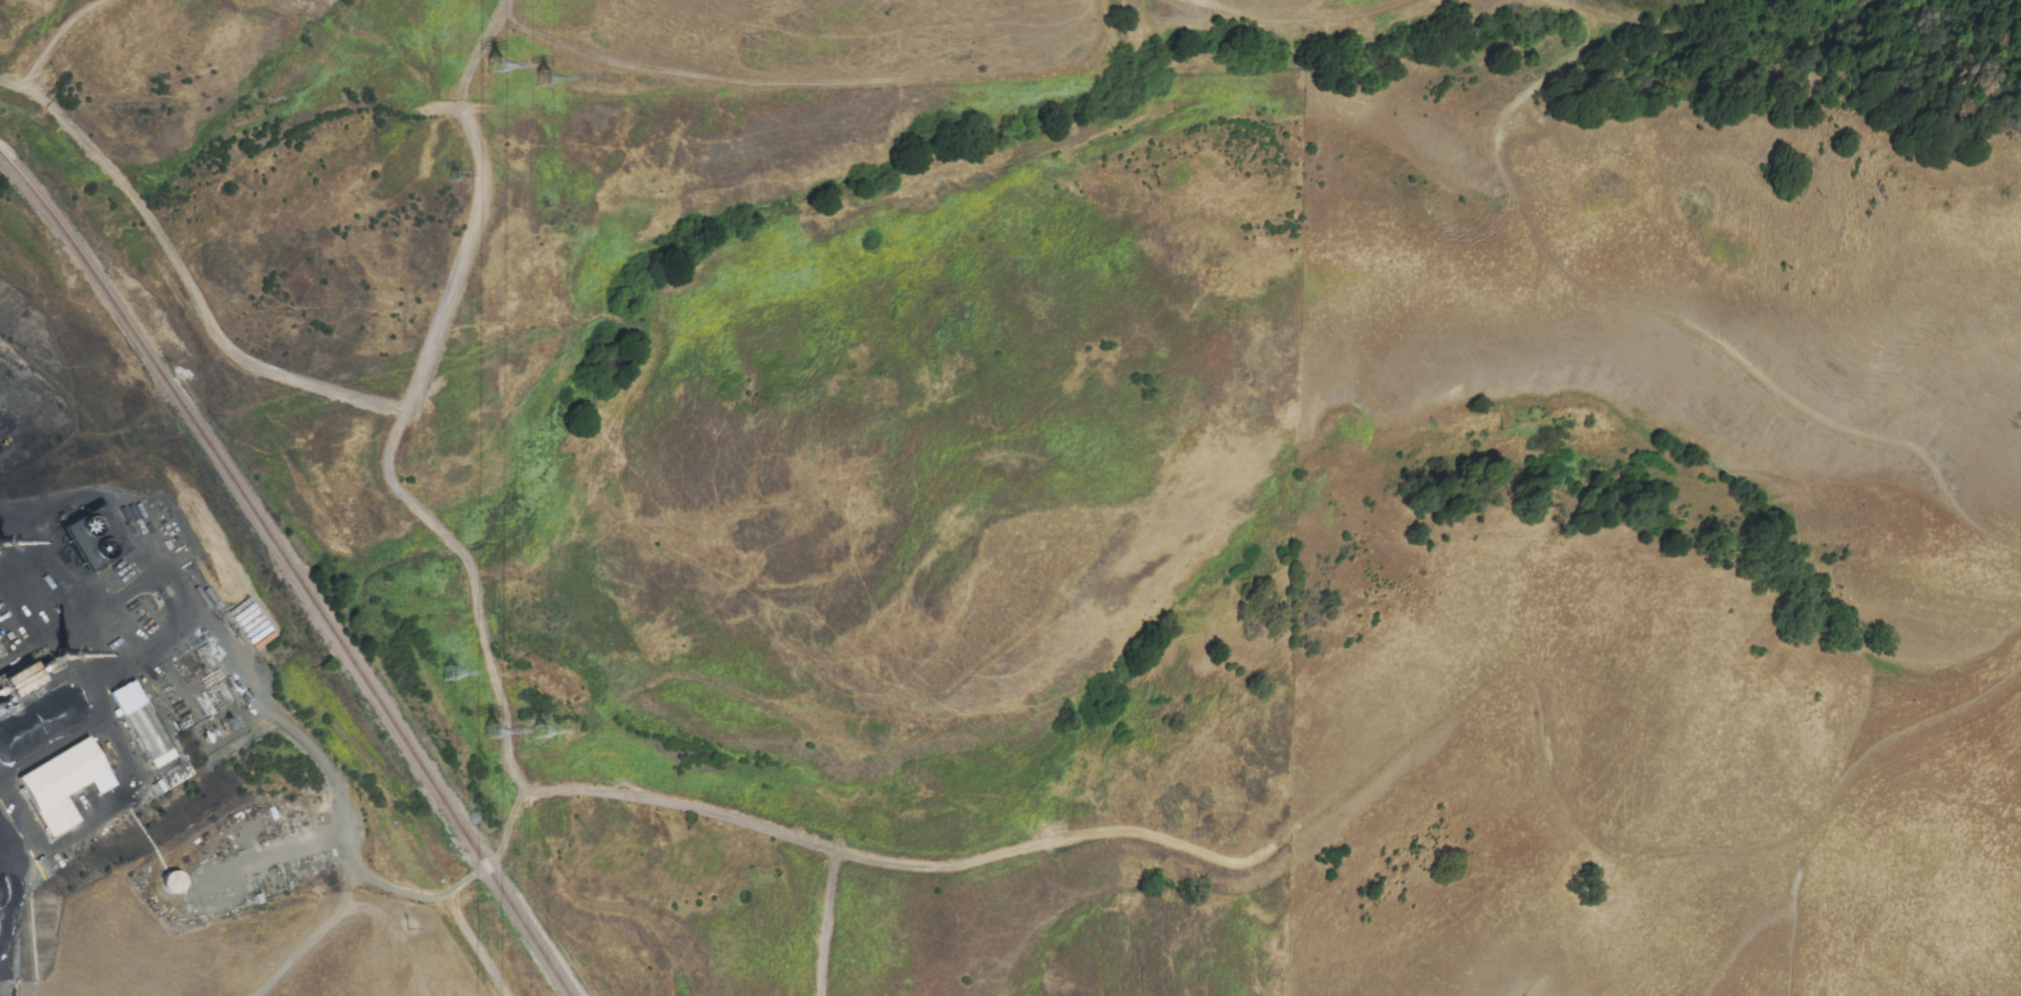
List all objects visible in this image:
road: (357, 29)
road: (477, 56)
power tower: (498, 57)
power tower: (547, 78)
power tower: (454, 175)
road: (156, 230)
road: (390, 451)
railway: (294, 570)
power tower: (457, 670)
building: (18, 680)
road: (1540, 685)
road: (101, 690)
building: (142, 723)
power tower: (495, 723)
power substation: (218, 729)
power tower: (543, 731)
building: (62, 784)
road: (504, 838)

